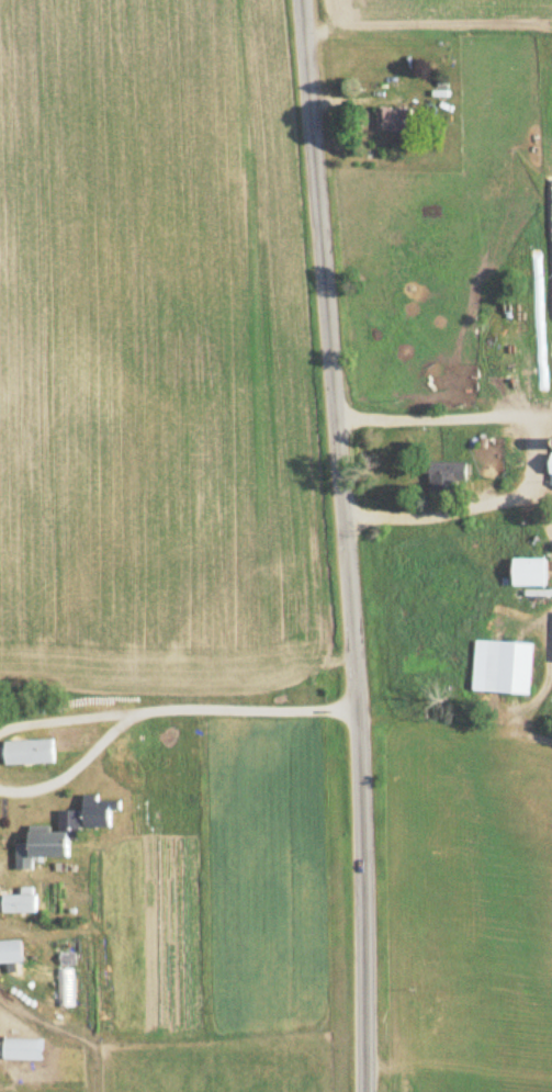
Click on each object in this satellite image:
building: (391, 120)
road: (542, 449)
building: (550, 465)
building: (446, 479)
road: (541, 505)
road: (347, 544)
building: (527, 572)
building: (507, 667)
road: (540, 700)
road: (252, 708)
road: (71, 718)
road: (454, 720)
building: (26, 751)
road: (81, 767)
building: (93, 809)
building: (46, 841)
building: (16, 902)
building: (10, 952)

